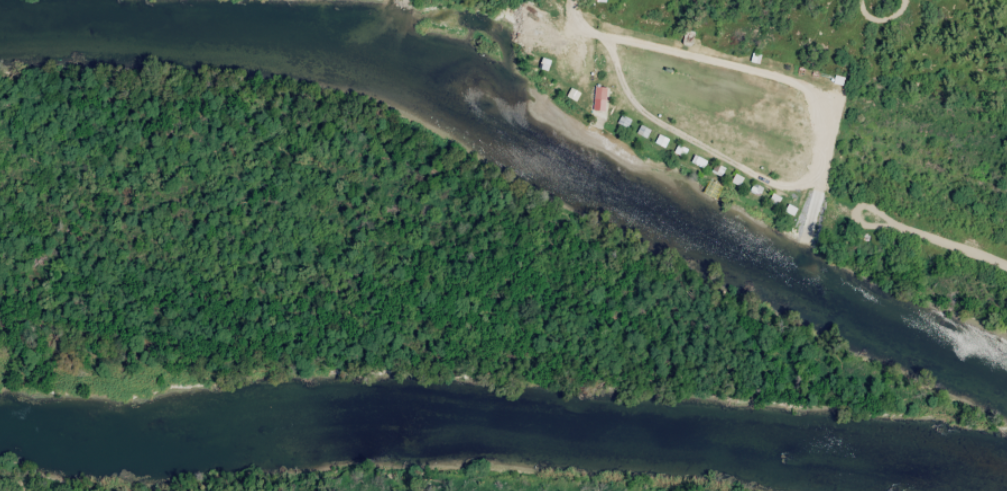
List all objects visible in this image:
river: (525, 127)
river: (504, 426)

